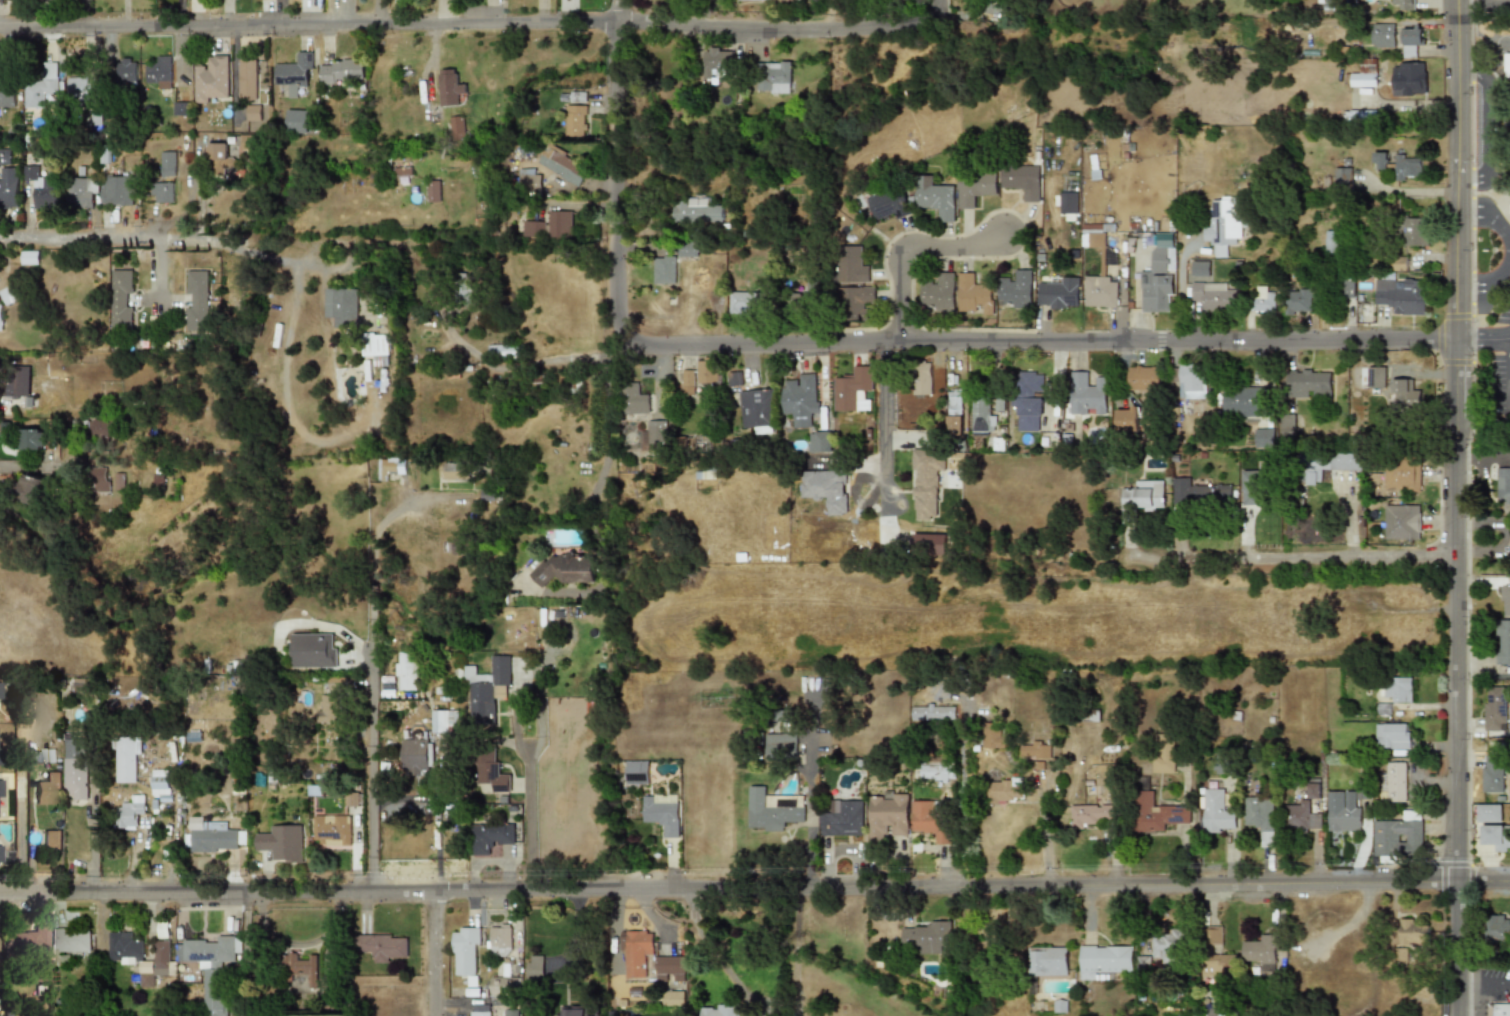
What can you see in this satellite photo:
building: (742, 0)
building: (1326, 1)
building: (1404, 5)
road: (1481, 5)
road: (377, 10)
road: (44, 12)
road: (477, 19)
building: (1336, 35)
building: (1382, 35)
building: (1411, 41)
building: (715, 60)
building: (1507, 65)
building: (126, 69)
building: (158, 71)
building: (342, 72)
building: (294, 73)
building: (1363, 75)
building: (772, 77)
building: (1409, 78)
building: (212, 80)
building: (248, 80)
building: (41, 85)
building: (449, 88)
building: (7, 89)
building: (79, 89)
building: (181, 108)
building: (255, 113)
building: (1359, 117)
building: (577, 120)
building: (296, 121)
road: (1486, 123)
building: (455, 127)
building: (219, 158)
building: (1379, 161)
building: (168, 164)
building: (563, 165)
road: (613, 166)
building: (1408, 168)
building: (7, 177)
building: (1343, 177)
building: (530, 179)
building: (1021, 180)
building: (40, 184)
building: (975, 188)
building: (116, 190)
building: (81, 191)
building: (162, 191)
building: (433, 191)
building: (934, 198)
building: (1067, 202)
building: (884, 204)
building: (697, 212)
road: (1491, 212)
building: (561, 224)
building: (1223, 226)
building: (535, 229)
building: (1413, 232)
building: (1093, 234)
road: (148, 235)
building: (1331, 241)
building: (687, 250)
road: (910, 250)
building: (28, 257)
building: (851, 265)
building: (1201, 268)
building: (665, 269)
building: (1160, 273)
road: (1180, 287)
building: (1346, 287)
road: (1490, 288)
building: (1015, 289)
building: (1100, 291)
building: (939, 292)
building: (973, 293)
building: (1059, 293)
building: (8, 294)
building: (1400, 294)
building: (1213, 297)
building: (121, 298)
building: (855, 299)
building: (197, 300)
building: (1263, 300)
building: (1300, 300)
building: (743, 302)
building: (343, 305)
building: (0, 315)
road: (1482, 339)
road: (1032, 340)
building: (376, 345)
building: (504, 351)
road: (521, 364)
building: (708, 371)
building: (1143, 377)
building: (1374, 377)
building: (733, 378)
building: (922, 378)
building: (688, 379)
road: (660, 380)
building: (1191, 380)
building: (1308, 383)
building: (854, 390)
building: (1404, 393)
building: (1087, 394)
road: (2, 399)
building: (634, 399)
building: (800, 399)
building: (1240, 400)
building: (1029, 401)
building: (755, 410)
building: (954, 412)
building: (982, 415)
building: (1126, 419)
building: (1285, 424)
road: (883, 426)
road: (605, 432)
building: (651, 437)
building: (1263, 437)
building: (33, 439)
building: (819, 442)
road: (1481, 455)
building: (1345, 461)
road: (20, 467)
building: (391, 467)
building: (1402, 475)
building: (97, 479)
building: (924, 482)
building: (1252, 488)
building: (826, 489)
building: (31, 490)
building: (1503, 491)
building: (1199, 493)
building: (1143, 497)
road: (1453, 507)
building: (1401, 522)
building: (929, 544)
road: (1292, 555)
road: (371, 564)
building: (564, 569)
building: (1505, 600)
building: (1503, 642)
building: (314, 650)
building: (408, 671)
building: (486, 689)
building: (1401, 689)
building: (819, 692)
building: (332, 702)
building: (1494, 706)
building: (933, 713)
building: (443, 721)
building: (992, 735)
building: (1392, 736)
building: (779, 746)
building: (1036, 751)
building: (1163, 753)
building: (417, 755)
building: (127, 759)
building: (76, 768)
building: (491, 771)
building: (637, 772)
building: (936, 772)
building: (1493, 773)
road: (372, 774)
building: (160, 782)
building: (1393, 783)
building: (48, 788)
building: (0, 789)
building: (1314, 790)
road: (962, 792)
building: (1004, 792)
road: (528, 797)
building: (351, 799)
building: (771, 810)
building: (131, 811)
road: (808, 811)
building: (1216, 812)
building: (1343, 812)
building: (661, 813)
building: (1156, 813)
building: (1488, 813)
building: (887, 814)
building: (1092, 814)
building: (1302, 817)
building: (842, 818)
building: (1260, 818)
building: (930, 819)
building: (331, 830)
building: (1399, 835)
building: (214, 836)
building: (1495, 836)
building: (489, 837)
building: (52, 840)
building: (282, 842)
road: (172, 844)
road: (755, 889)
road: (692, 900)
road: (693, 914)
building: (1498, 928)
building: (1412, 933)
building: (1211, 935)
building: (926, 937)
building: (70, 940)
building: (500, 940)
building: (26, 944)
building: (383, 946)
building: (1167, 946)
building: (1261, 949)
building: (209, 950)
building: (466, 951)
building: (636, 952)
road: (795, 952)
building: (139, 953)
road: (433, 954)
building: (1104, 959)
building: (1048, 961)
building: (537, 966)
building: (1221, 966)
building: (300, 967)
building: (668, 967)
road: (723, 969)
road: (1478, 983)
building: (502, 985)
building: (216, 995)
building: (1500, 1009)
building: (481, 1010)
building: (719, 1010)
building: (573, 1013)
building: (1212, 1014)
building: (511, 1015)

